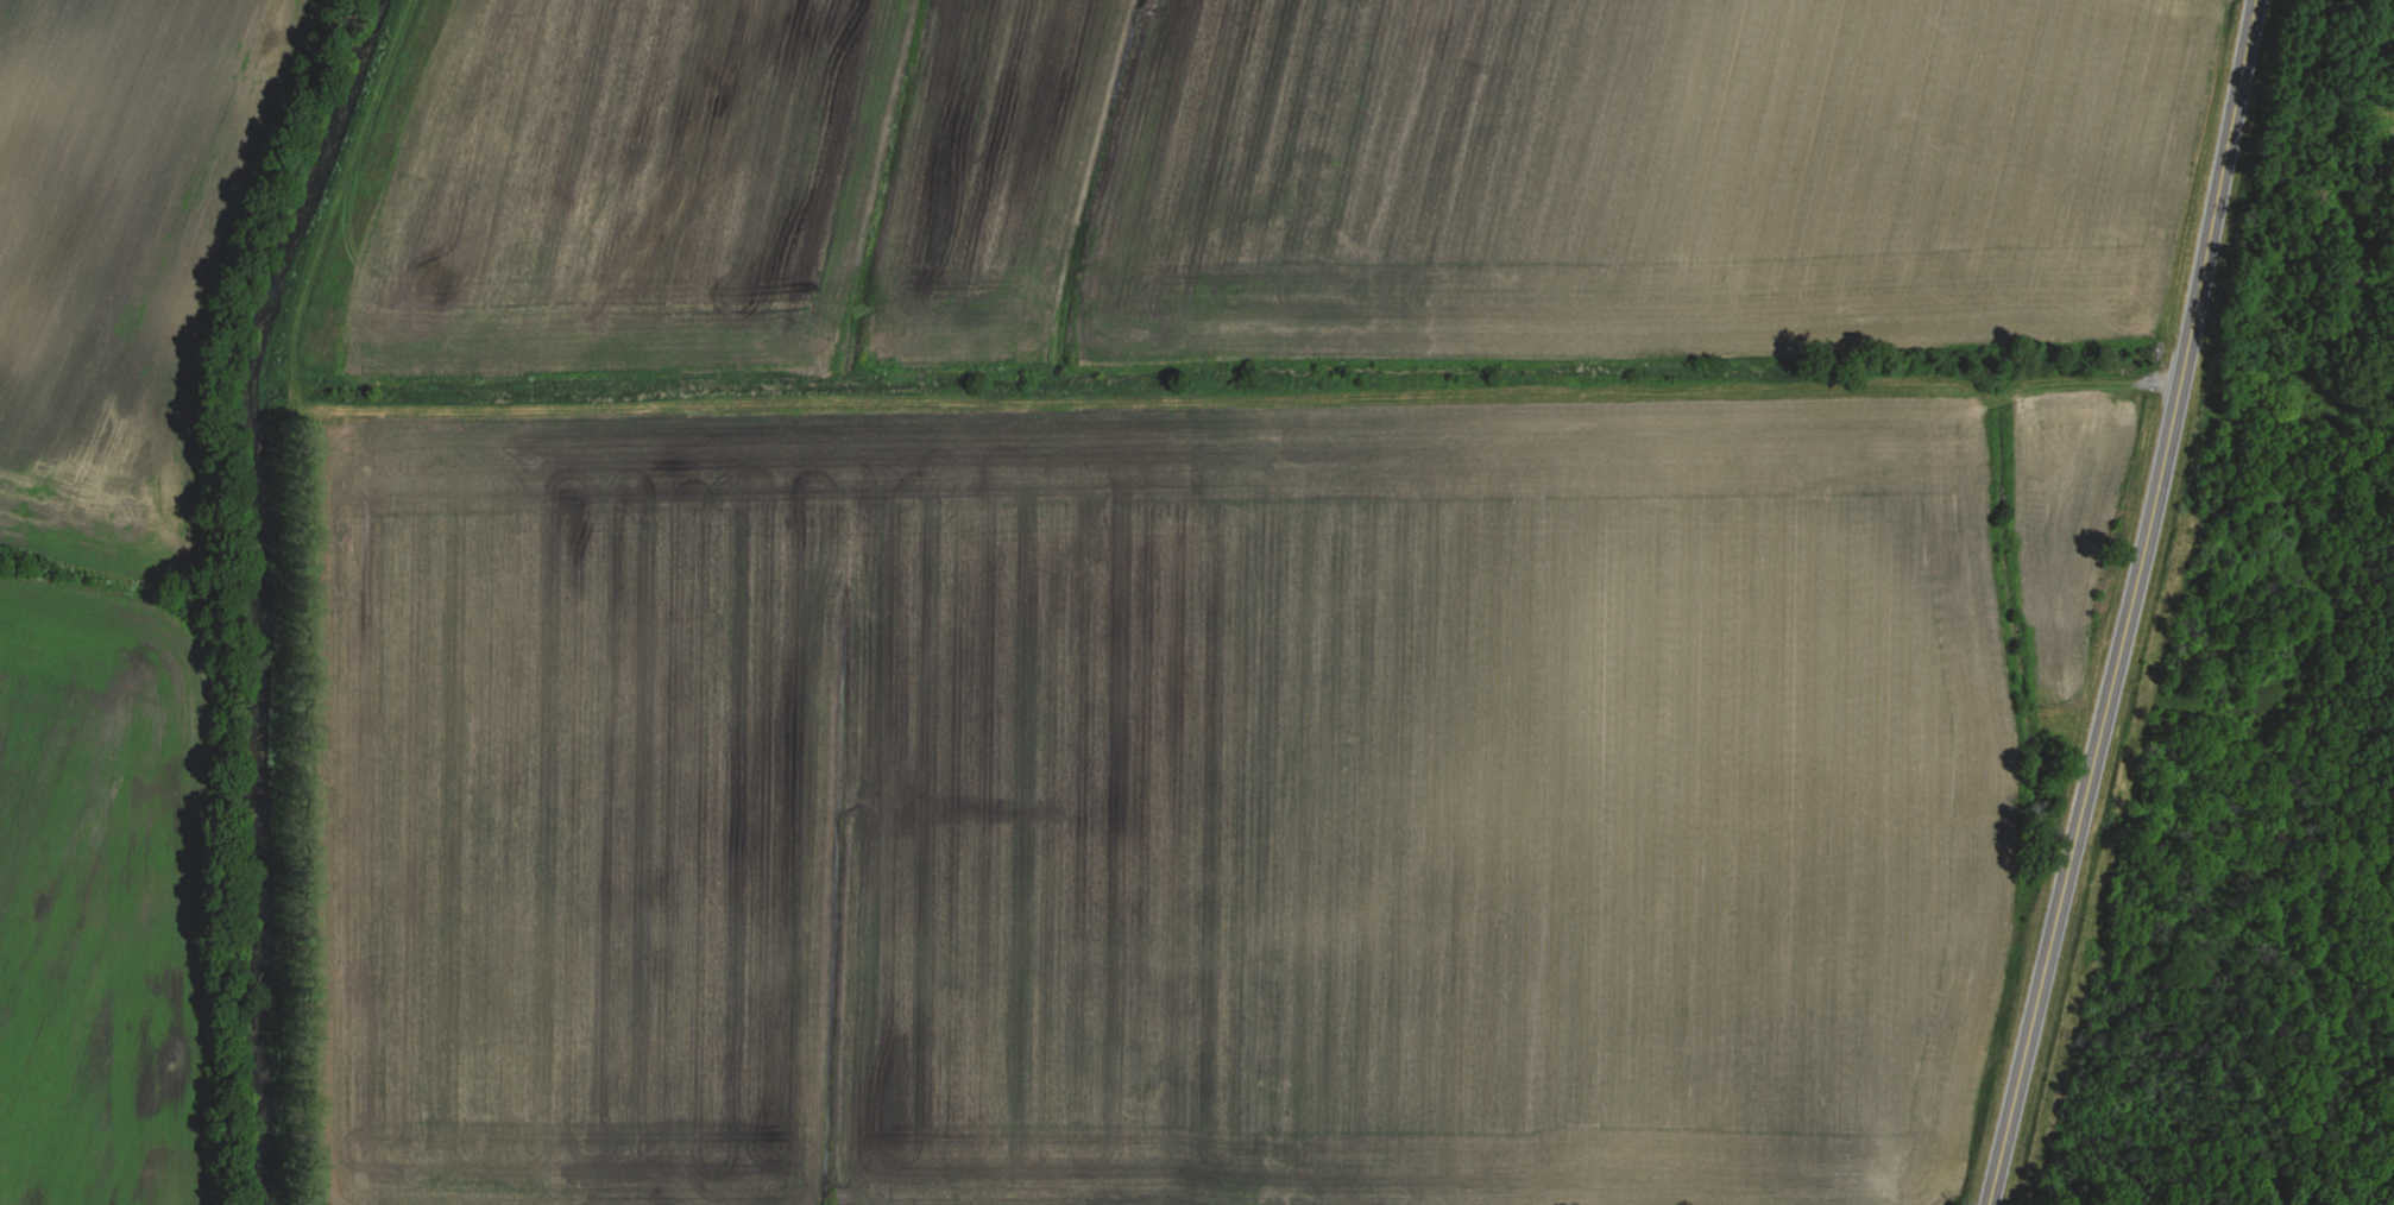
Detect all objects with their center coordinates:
road: (2128, 604)

